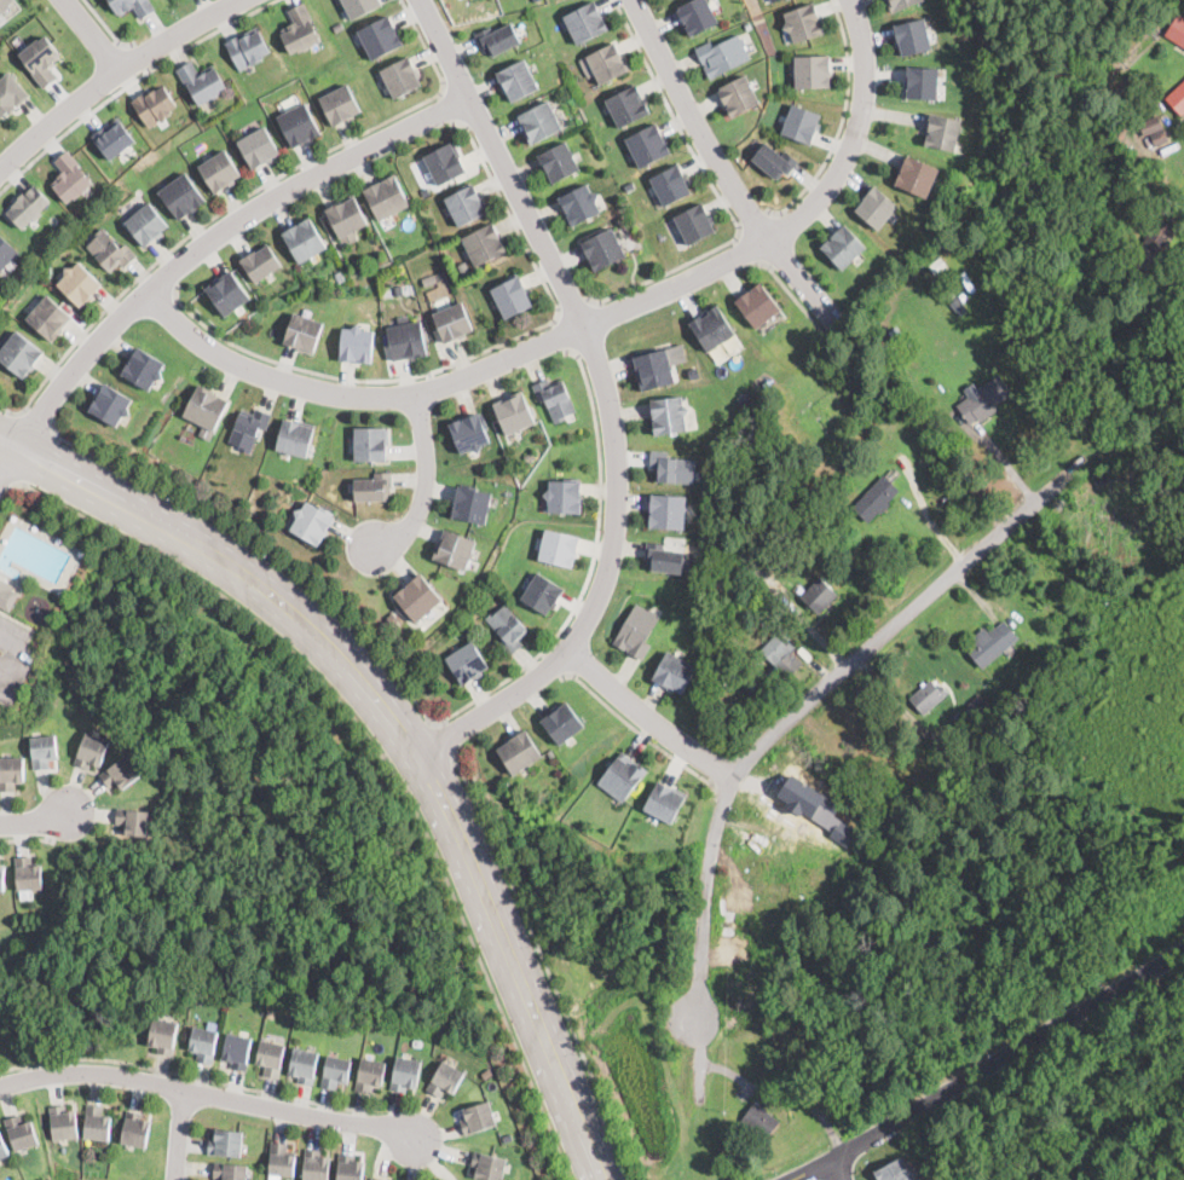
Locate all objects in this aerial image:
building: (772, 0)
building: (4, 4)
building: (902, 4)
building: (144, 6)
building: (360, 6)
building: (697, 15)
building: (1, 18)
building: (585, 21)
building: (803, 21)
building: (747, 24)
building: (339, 25)
road: (106, 28)
building: (301, 28)
building: (1177, 29)
building: (913, 34)
road: (94, 36)
building: (380, 37)
building: (498, 37)
building: (248, 47)
building: (1182, 48)
building: (723, 53)
park: (1046, 53)
road: (143, 56)
building: (40, 58)
building: (605, 62)
building: (812, 69)
road: (116, 77)
building: (402, 77)
building: (516, 80)
building: (200, 81)
building: (923, 81)
road: (131, 83)
building: (11, 93)
building: (739, 93)
building: (1177, 98)
building: (155, 104)
building: (626, 104)
building: (340, 105)
road: (449, 108)
building: (539, 121)
building: (802, 121)
road: (839, 122)
building: (299, 123)
road: (698, 123)
building: (1154, 129)
building: (943, 131)
building: (114, 137)
building: (647, 143)
building: (258, 147)
building: (775, 158)
building: (558, 162)
building: (445, 163)
building: (220, 172)
building: (917, 173)
building: (70, 174)
building: (670, 183)
building: (630, 185)
road: (717, 190)
building: (183, 195)
building: (386, 197)
road: (241, 199)
building: (28, 204)
building: (466, 204)
building: (579, 204)
building: (877, 206)
building: (347, 220)
road: (753, 220)
building: (694, 222)
building: (146, 224)
road: (216, 238)
building: (1156, 238)
building: (305, 241)
building: (484, 244)
building: (843, 245)
road: (749, 248)
building: (110, 249)
building: (602, 249)
building: (6, 250)
building: (261, 264)
building: (937, 266)
building: (340, 274)
building: (429, 278)
road: (801, 279)
building: (80, 282)
road: (162, 282)
building: (399, 288)
building: (438, 291)
building: (227, 293)
road: (793, 294)
building: (964, 295)
building: (510, 296)
road: (571, 303)
building: (758, 303)
building: (959, 308)
building: (48, 316)
building: (452, 323)
building: (711, 326)
road: (588, 329)
building: (304, 334)
road: (560, 334)
building: (900, 335)
building: (406, 341)
building: (357, 345)
building: (19, 352)
road: (464, 359)
building: (143, 369)
building: (653, 370)
building: (555, 399)
road: (610, 399)
building: (984, 399)
building: (110, 405)
building: (206, 410)
building: (514, 413)
building: (668, 415)
road: (39, 418)
building: (248, 428)
building: (469, 432)
building: (295, 438)
building: (370, 444)
building: (530, 455)
road: (8, 465)
building: (671, 468)
road: (6, 482)
road: (428, 482)
building: (372, 487)
building: (565, 497)
building: (874, 498)
building: (472, 504)
building: (666, 511)
building: (312, 522)
building: (558, 548)
building: (454, 550)
building: (664, 559)
building: (763, 583)
building: (543, 591)
building: (7, 595)
building: (819, 596)
building: (417, 597)
building: (393, 617)
road: (18, 619)
building: (507, 629)
building: (636, 631)
building: (990, 643)
building: (774, 649)
road: (13, 656)
parking lot: (13, 658)
building: (467, 663)
road: (554, 663)
building: (1059, 666)
building: (675, 671)
building: (744, 676)
building: (749, 686)
building: (750, 694)
building: (926, 696)
road: (807, 702)
building: (977, 705)
road: (423, 708)
building: (995, 711)
road: (649, 721)
building: (562, 722)
road: (400, 725)
building: (999, 727)
road: (641, 733)
road: (449, 735)
building: (92, 748)
building: (44, 750)
building: (519, 750)
road: (380, 752)
building: (120, 770)
building: (11, 771)
building: (623, 775)
building: (664, 800)
building: (133, 820)
road: (36, 823)
road: (27, 839)
building: (28, 874)
building: (2, 875)
road: (544, 959)
building: (200, 999)
building: (271, 1013)
building: (162, 1035)
building: (203, 1043)
park: (1153, 1047)
building: (236, 1051)
building: (816, 1053)
building: (271, 1058)
building: (304, 1065)
road: (989, 1066)
building: (335, 1071)
building: (406, 1071)
building: (370, 1072)
building: (486, 1072)
road: (195, 1077)
building: (445, 1077)
road: (210, 1098)
building: (478, 1116)
building: (760, 1120)
building: (63, 1123)
building: (96, 1123)
building: (134, 1129)
building: (21, 1133)
road: (180, 1136)
building: (225, 1143)
building: (2, 1149)
building: (282, 1159)
building: (314, 1165)
building: (487, 1167)
building: (348, 1168)
road: (841, 1170)
building: (895, 1170)
building: (230, 1172)
building: (376, 1179)

